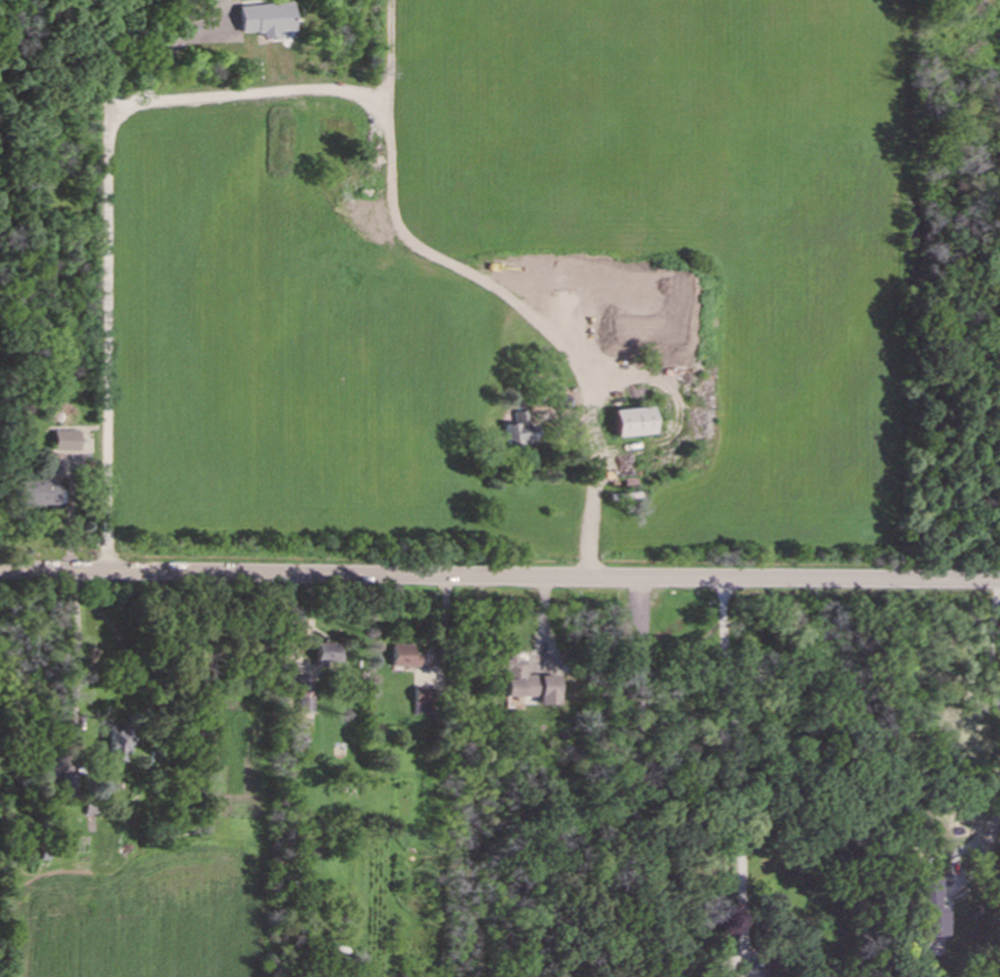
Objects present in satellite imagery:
building: (265, 18)
road: (165, 68)
road: (436, 252)
road: (107, 285)
crop: (529, 288)
building: (631, 421)
building: (519, 429)
building: (66, 440)
building: (37, 491)
road: (499, 577)
road: (988, 639)
building: (327, 653)
building: (404, 656)
road: (76, 663)
building: (528, 683)
building: (305, 694)
building: (423, 700)
building: (117, 742)
road: (737, 764)
road: (637, 779)
building: (68, 787)
road: (979, 874)
building: (932, 910)
crop: (137, 937)

